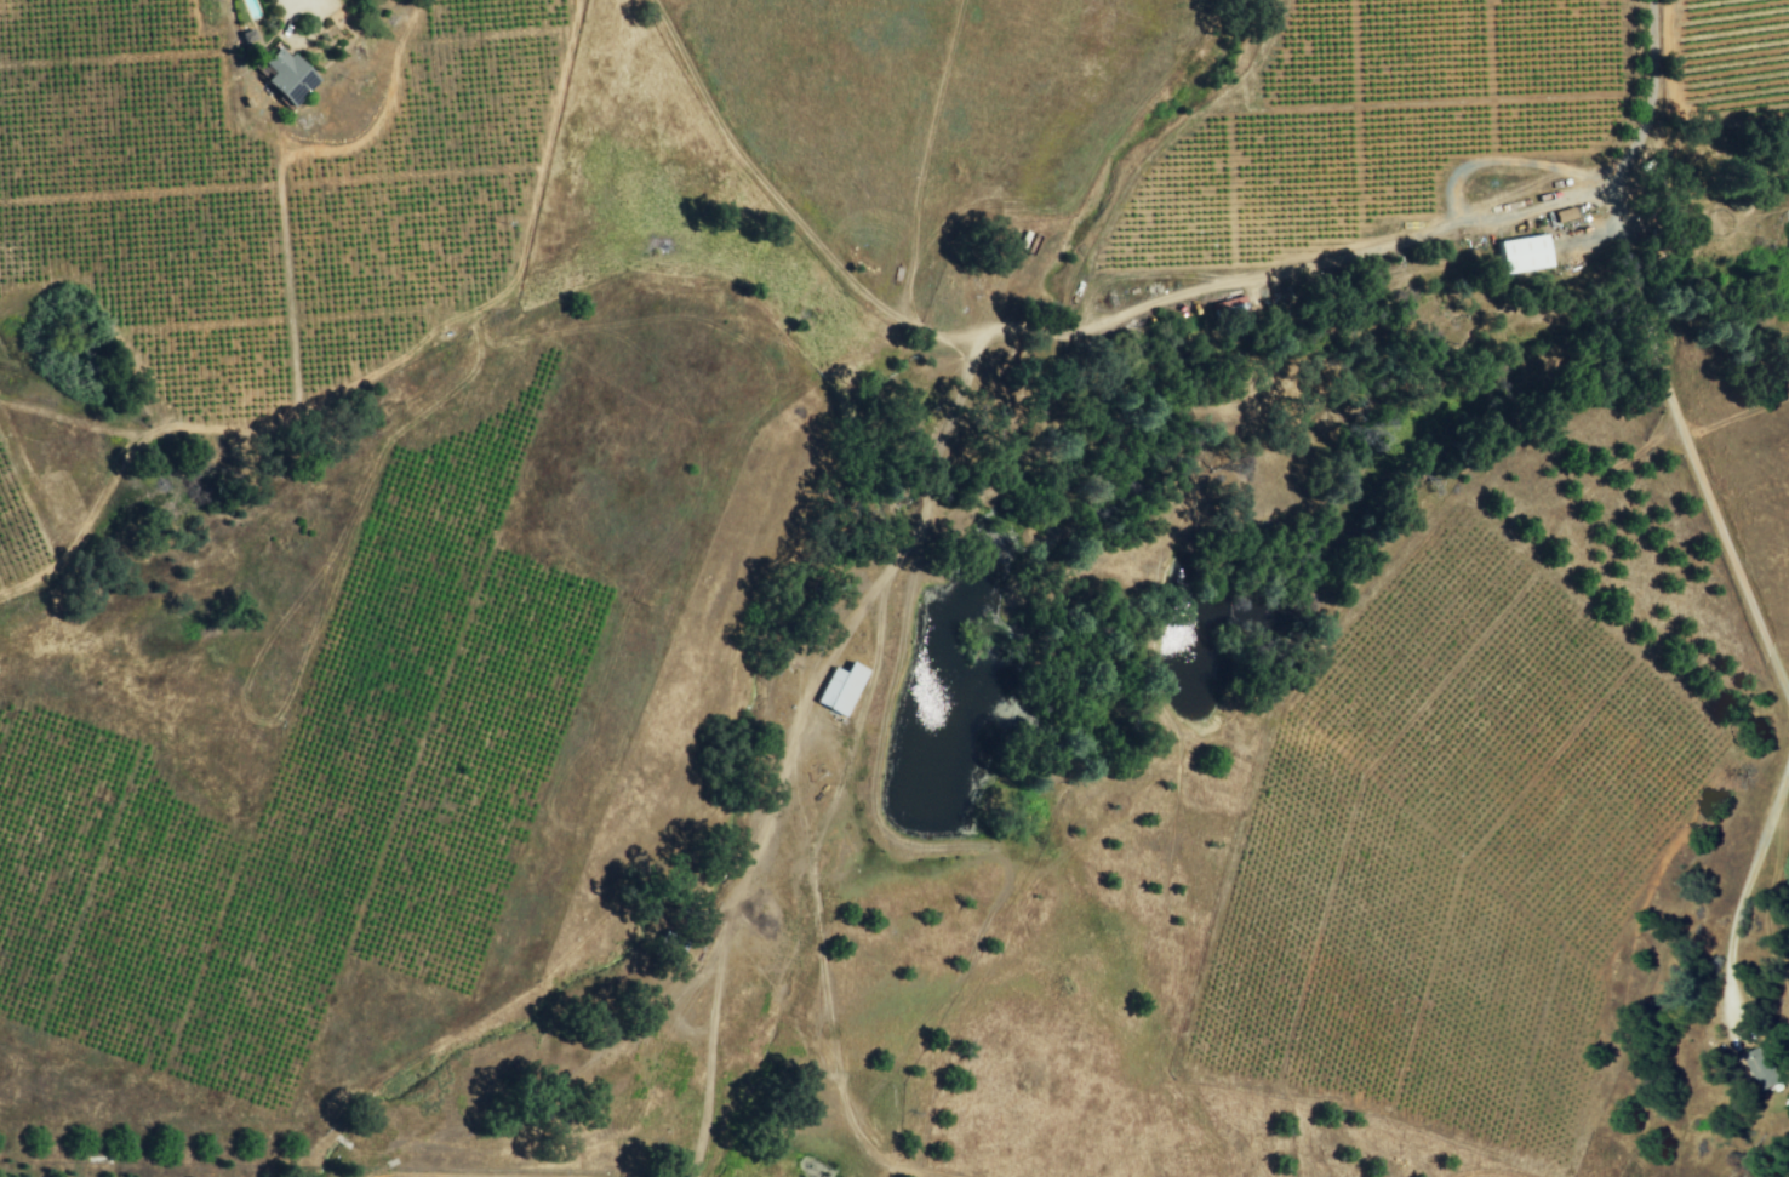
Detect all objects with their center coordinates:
building: (285, 75)
road: (1204, 98)
building: (1522, 253)
road: (1190, 291)
building: (840, 689)
building: (1762, 1068)

